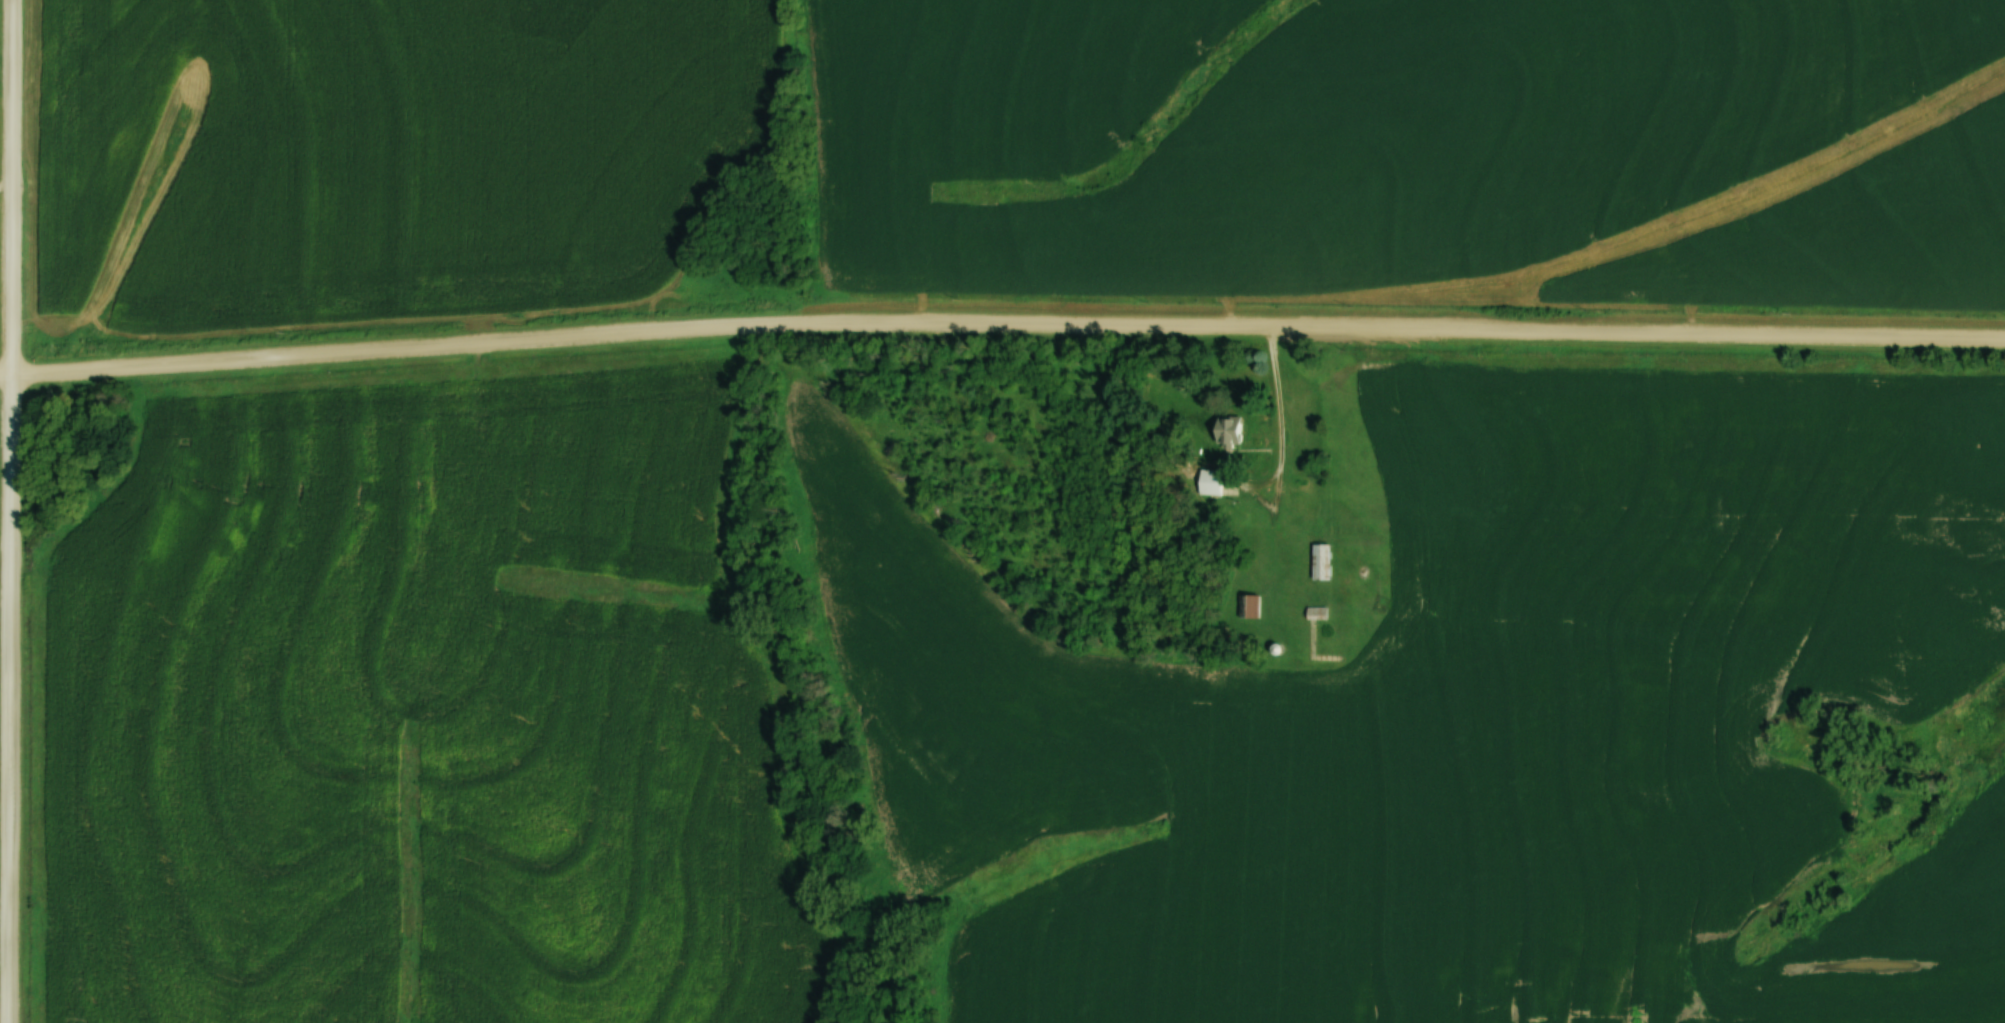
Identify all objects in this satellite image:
road: (1001, 321)
building: (1226, 430)
building: (1210, 482)
road: (10, 511)
building: (1248, 606)

